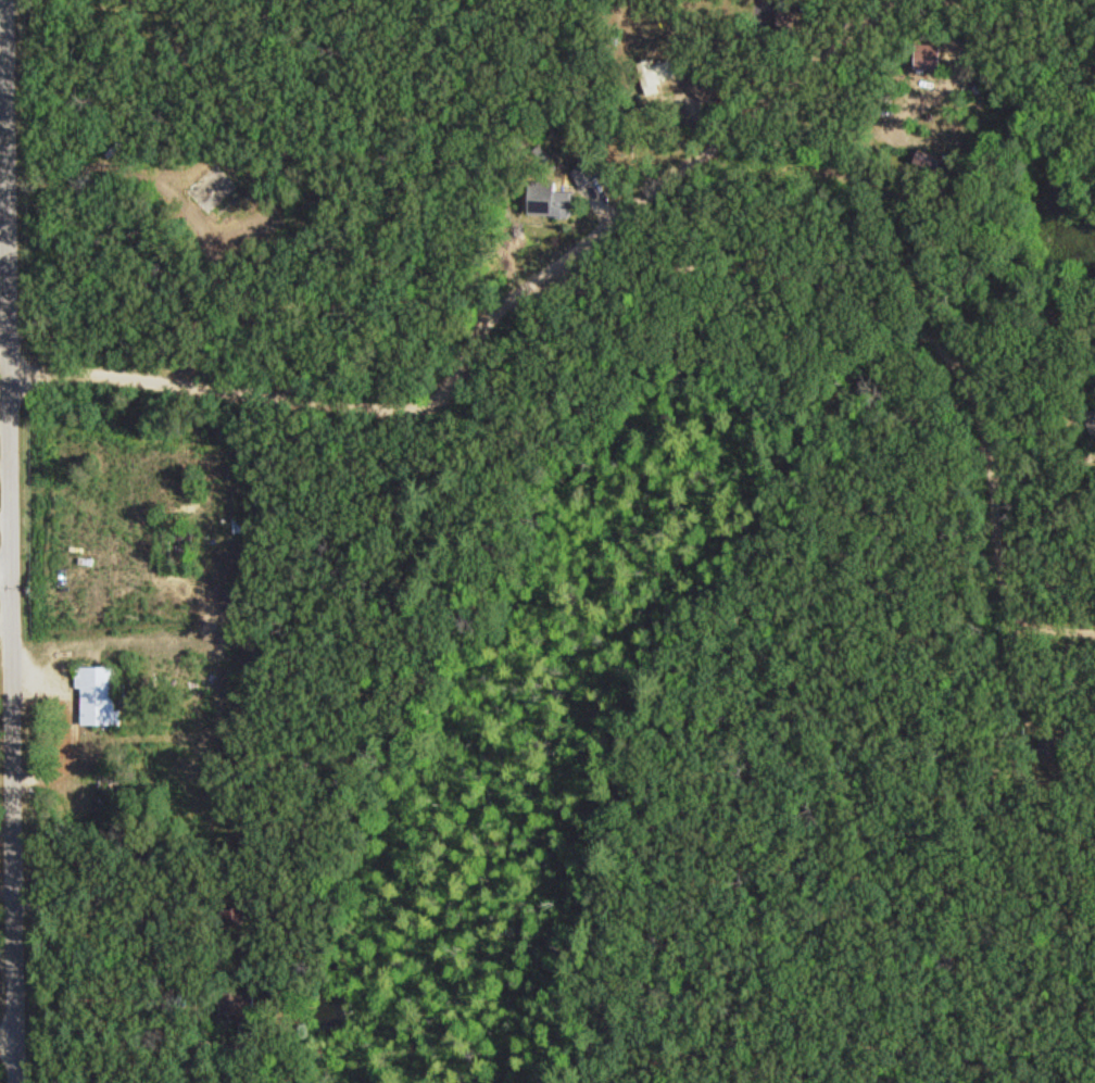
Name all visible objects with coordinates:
building: (791, 17)
building: (663, 71)
road: (10, 181)
building: (570, 189)
road: (744, 266)
road: (484, 323)
road: (996, 526)
road: (7, 578)
building: (101, 693)
road: (13, 722)
road: (8, 1047)

